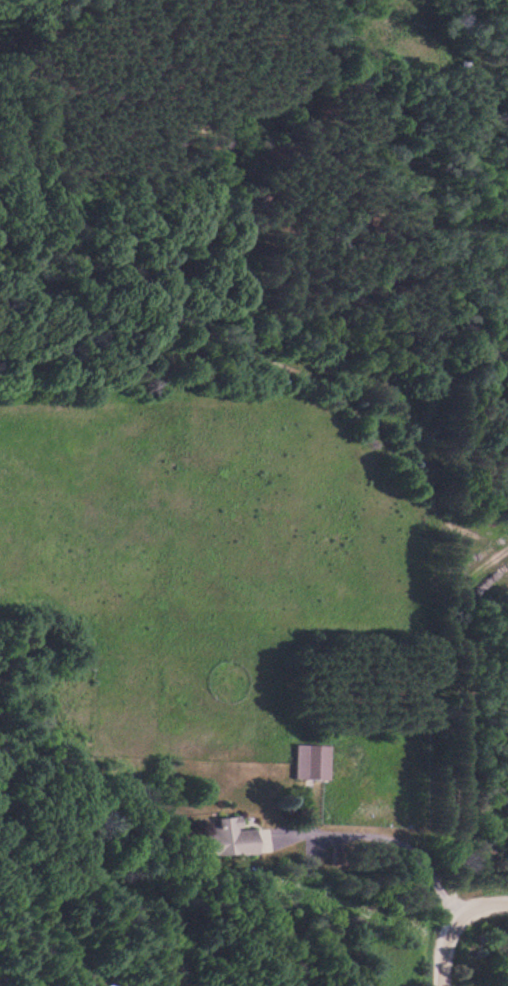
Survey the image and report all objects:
road: (54, 29)
road: (277, 358)
road: (459, 735)
building: (311, 761)
building: (225, 837)
road: (480, 906)
road: (442, 950)

